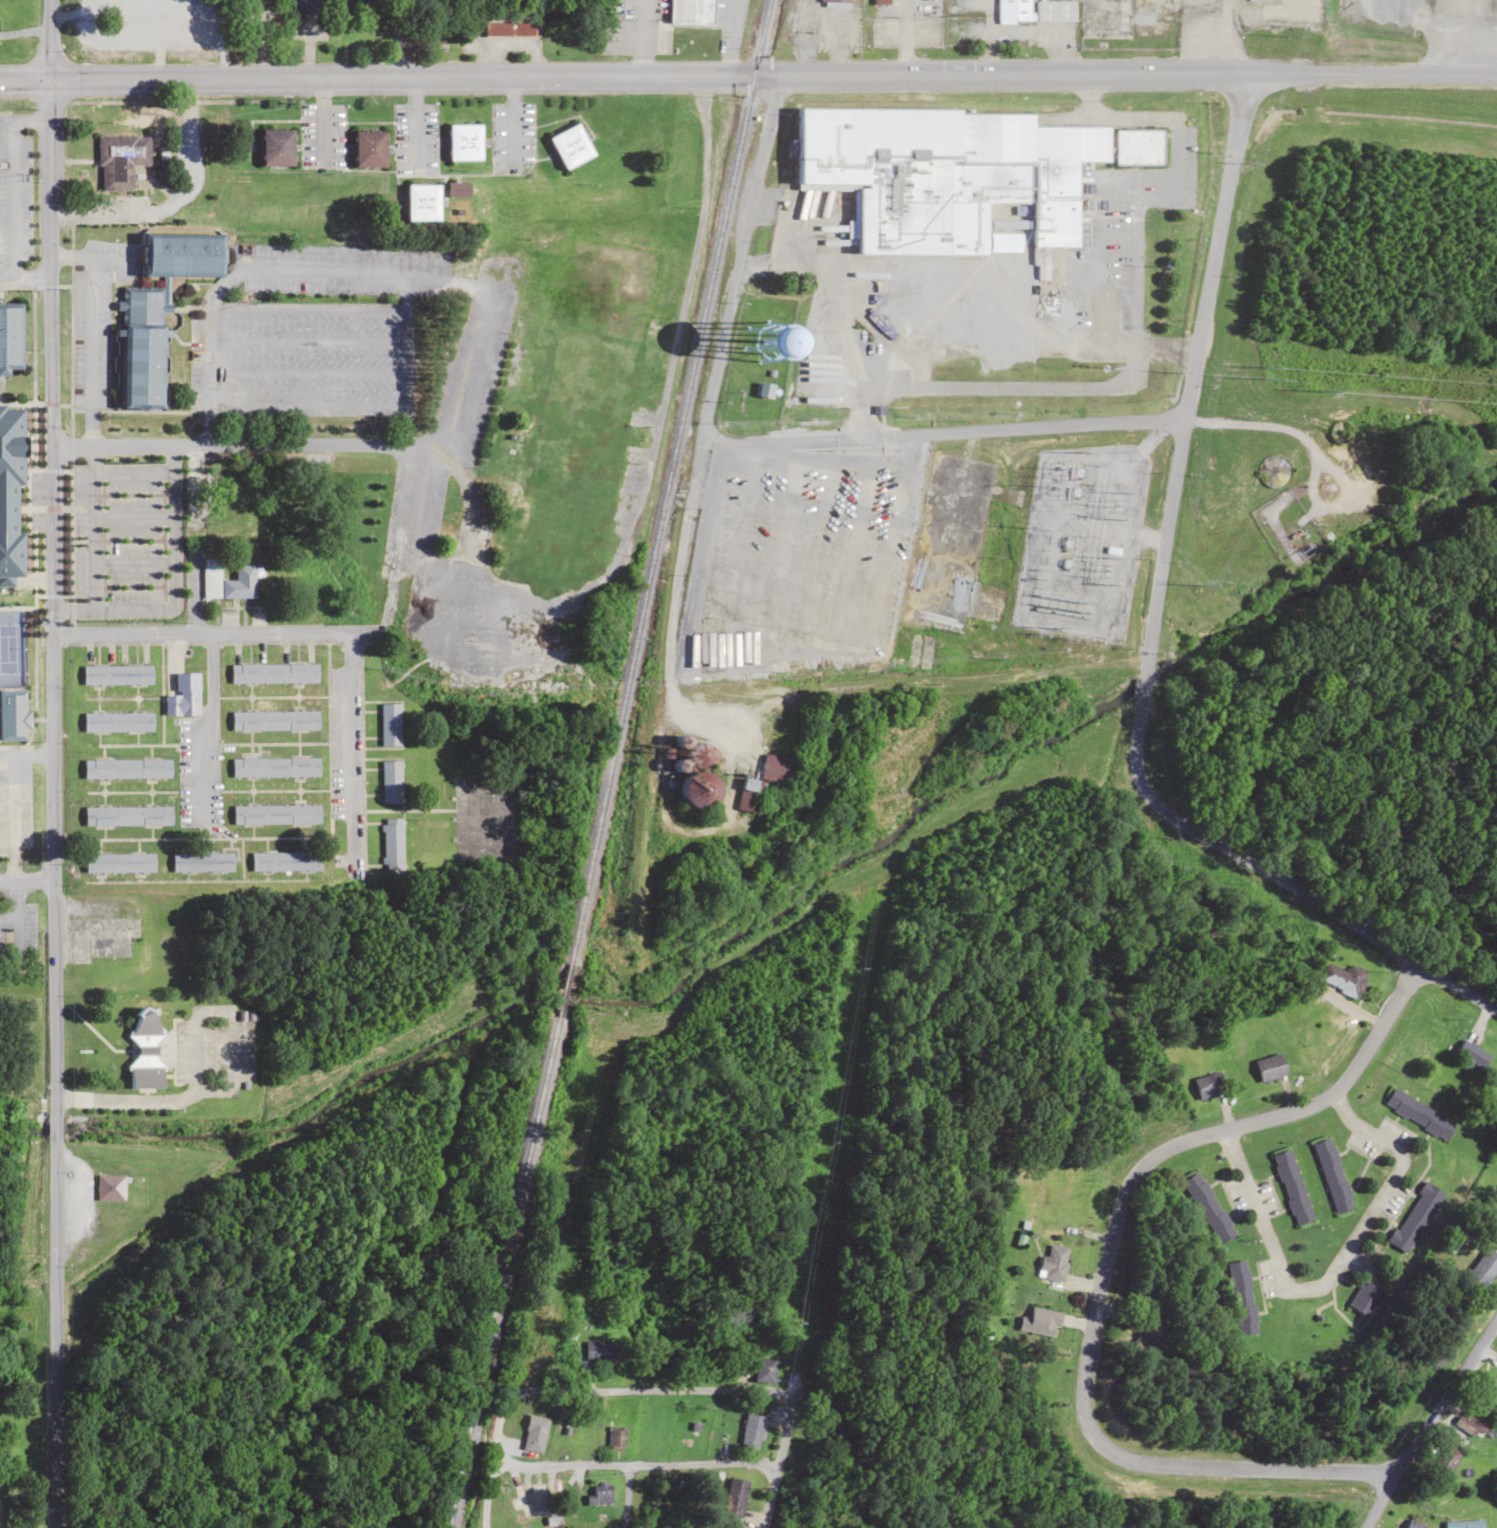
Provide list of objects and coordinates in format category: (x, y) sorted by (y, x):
building: (1035, 10)
building: (508, 28)
road: (400, 39)
road: (1124, 72)
road: (375, 78)
building: (465, 142)
building: (278, 147)
building: (571, 147)
building: (370, 148)
building: (120, 159)
building: (956, 175)
building: (458, 190)
building: (423, 203)
building: (181, 254)
building: (11, 334)
building: (140, 346)
water tower: (789, 346)
road: (13, 389)
building: (764, 390)
road: (24, 403)
road: (940, 432)
road: (283, 445)
building: (11, 487)
road: (420, 561)
building: (228, 580)
building: (470, 606)
road: (666, 628)
road: (316, 632)
road: (1148, 637)
park: (16, 650)
building: (274, 673)
building: (116, 674)
building: (183, 695)
building: (13, 714)
road: (205, 718)
building: (274, 719)
building: (117, 721)
building: (387, 724)
road: (51, 764)
railway: (608, 764)
building: (274, 766)
building: (127, 768)
building: (780, 769)
building: (390, 780)
building: (701, 789)
building: (751, 794)
building: (276, 813)
building: (127, 815)
building: (391, 843)
building: (202, 861)
building: (286, 861)
building: (118, 862)
road: (26, 880)
building: (1343, 979)
parking lot: (211, 1048)
building: (145, 1050)
building: (1473, 1054)
building: (1271, 1067)
road: (230, 1084)
building: (1209, 1085)
road: (195, 1086)
building: (1419, 1114)
building: (1332, 1175)
building: (109, 1187)
building: (1292, 1187)
building: (1208, 1208)
building: (1415, 1217)
building: (1055, 1262)
building: (1483, 1267)
road: (1104, 1271)
building: (1241, 1297)
building: (1364, 1298)
building: (1040, 1321)
building: (1151, 1335)
building: (601, 1351)
building: (764, 1371)
road: (609, 1390)
building: (1489, 1391)
road: (1426, 1421)
building: (1471, 1425)
building: (752, 1432)
building: (535, 1433)
building: (616, 1437)
road: (776, 1460)
building: (1444, 1462)
railway: (469, 1464)
road: (642, 1466)
building: (601, 1494)
building: (735, 1496)
road: (624, 1497)
building: (537, 1499)
building: (1411, 1524)

